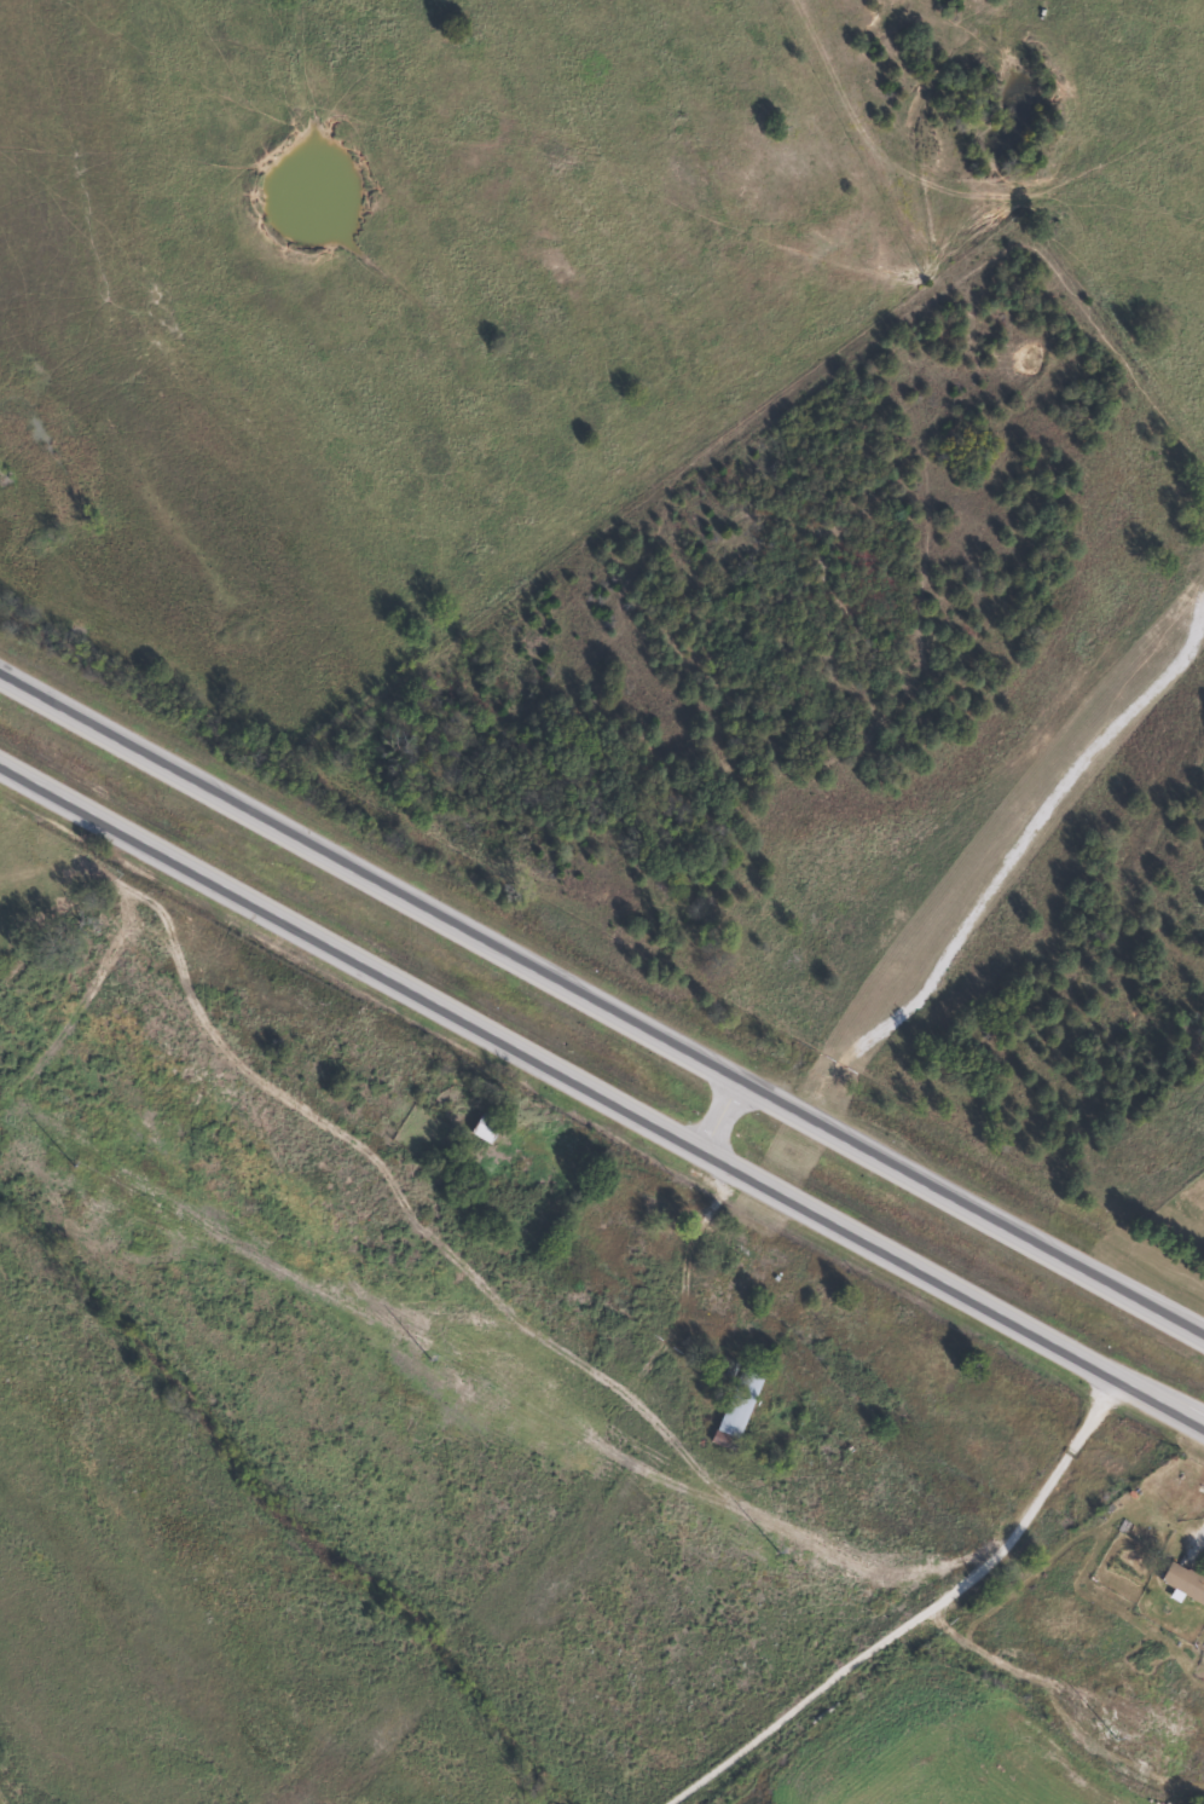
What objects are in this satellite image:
road: (602, 1008)
road: (602, 1099)
road: (714, 1116)
building: (479, 1133)
building: (654, 1236)
building: (735, 1409)
building: (1181, 1583)
road: (934, 1624)

